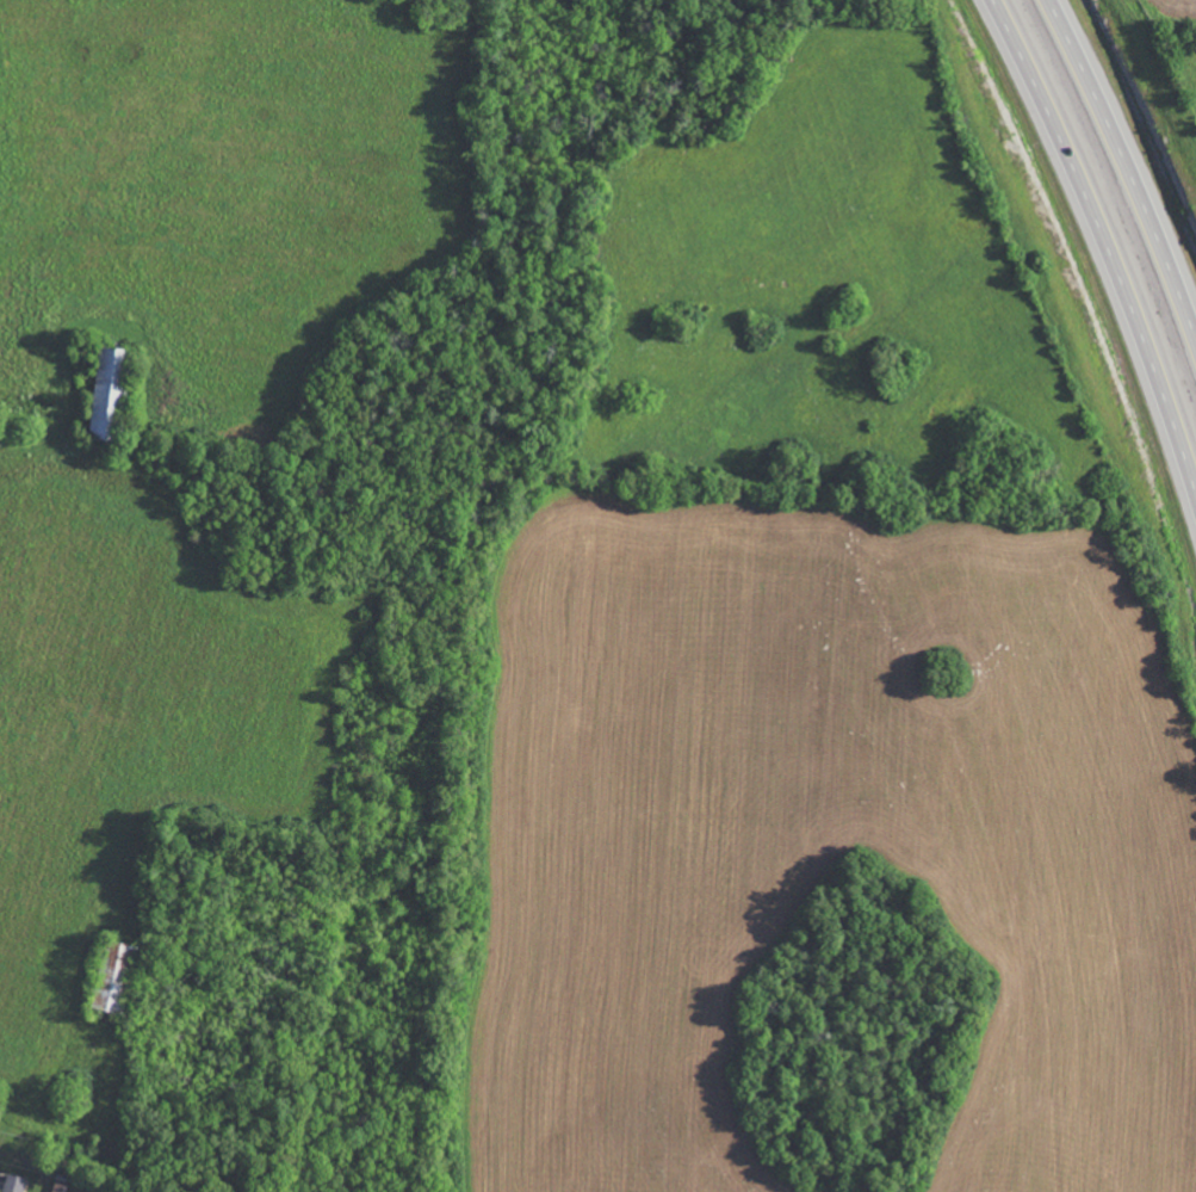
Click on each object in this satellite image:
road: (1128, 160)
road: (1107, 237)
building: (104, 395)
building: (110, 975)
building: (12, 1182)

